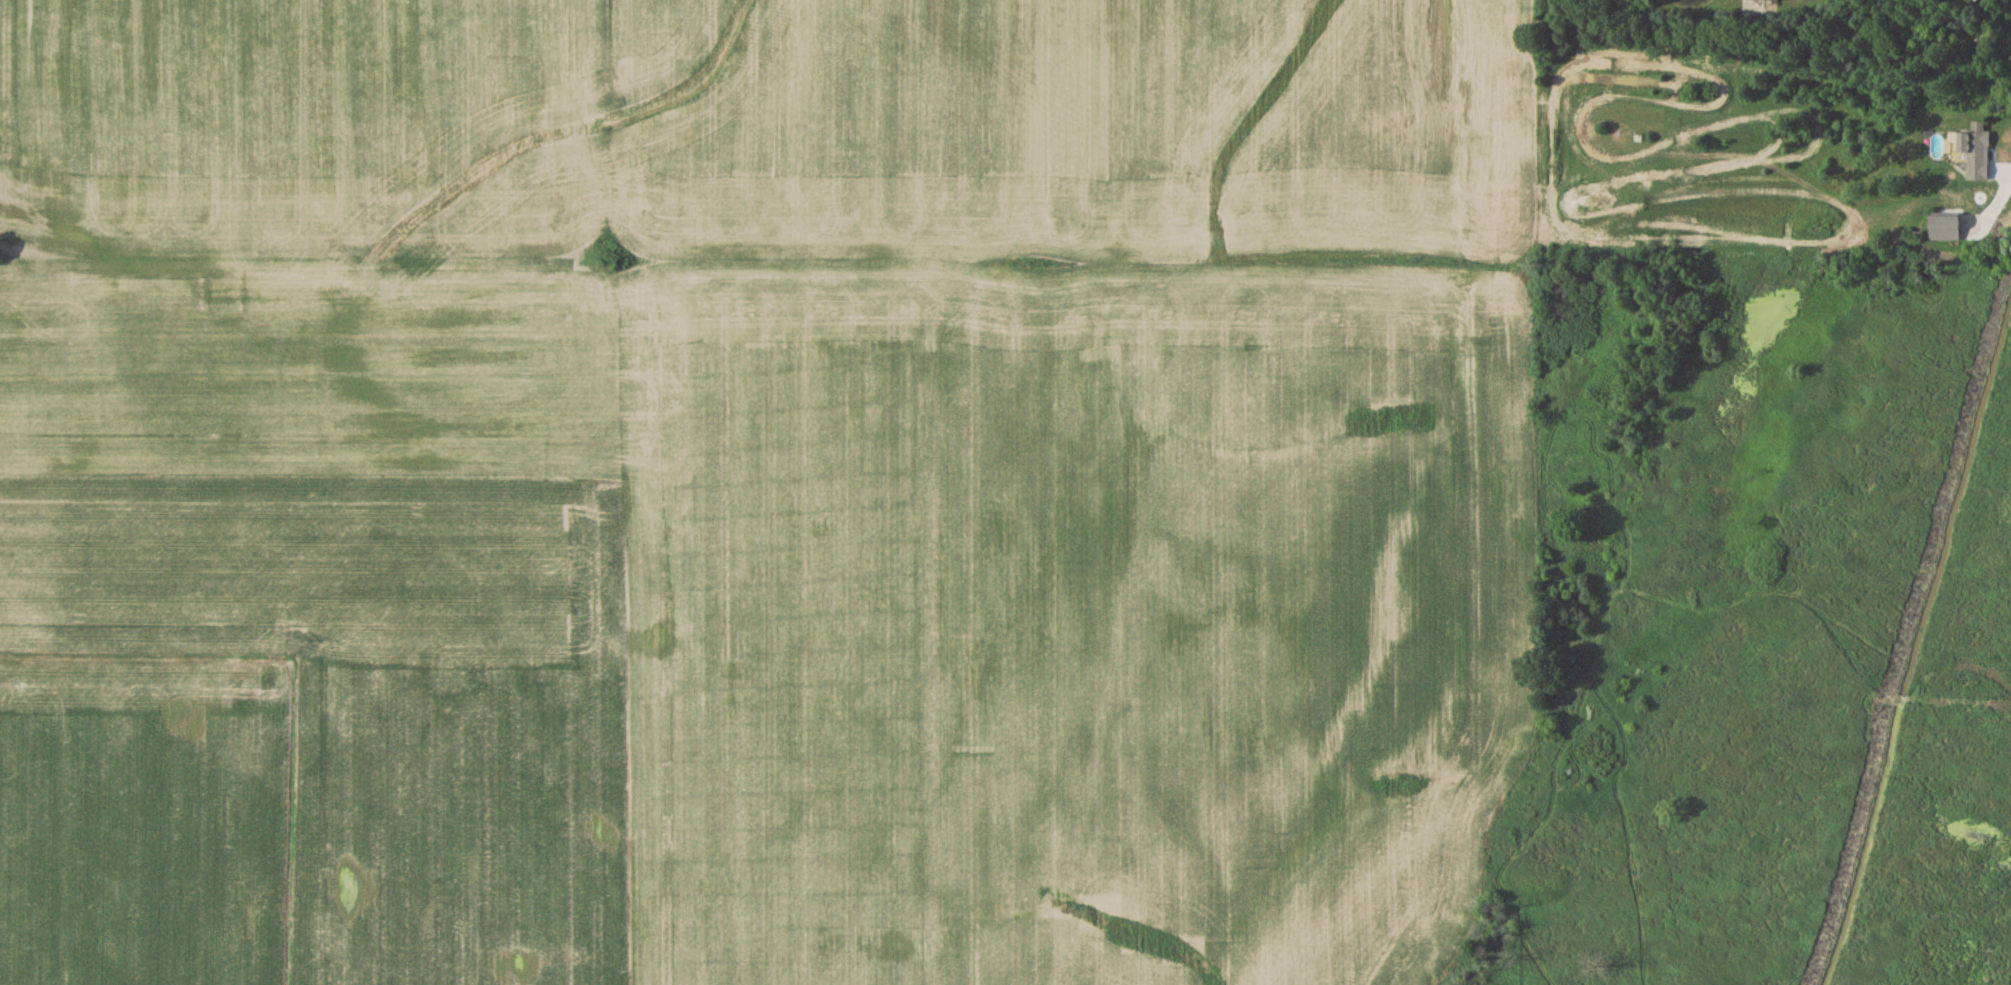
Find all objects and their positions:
building: (1976, 149)
road: (2004, 189)
building: (1945, 226)

